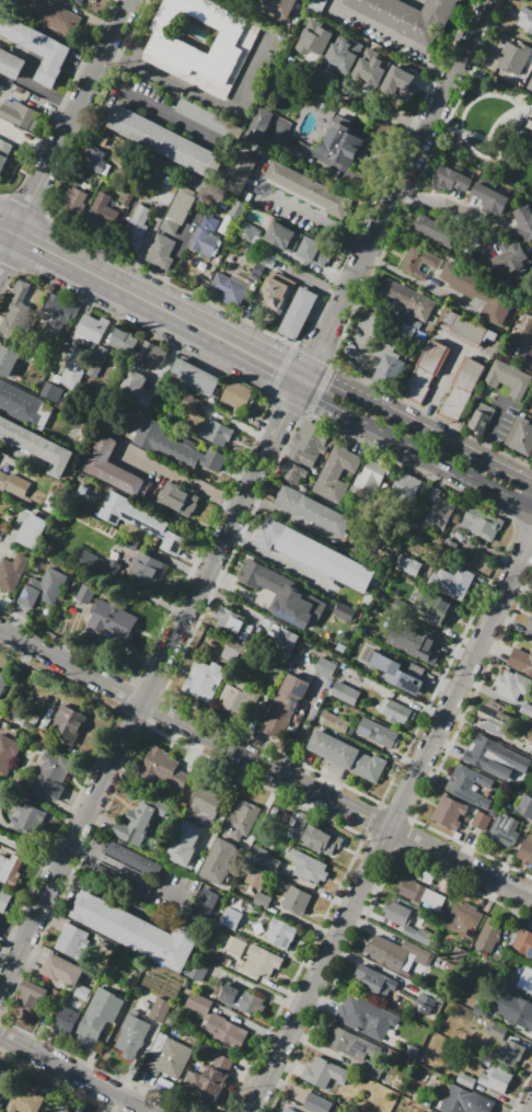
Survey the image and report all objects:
building: (76, 1)
building: (279, 7)
building: (408, 15)
building: (58, 16)
building: (525, 20)
road: (392, 33)
building: (314, 38)
building: (169, 45)
building: (37, 48)
building: (344, 53)
building: (513, 57)
building: (531, 62)
building: (10, 64)
building: (371, 67)
building: (401, 82)
road: (531, 87)
road: (204, 94)
road: (490, 94)
road: (366, 99)
road: (153, 106)
building: (18, 114)
building: (204, 117)
building: (258, 124)
road: (493, 127)
road: (63, 128)
road: (459, 130)
park: (491, 133)
building: (102, 134)
road: (273, 134)
building: (99, 139)
building: (162, 140)
building: (340, 141)
road: (470, 146)
building: (4, 154)
building: (93, 159)
road: (333, 164)
building: (239, 172)
building: (450, 179)
building: (309, 190)
building: (74, 199)
building: (491, 199)
road: (444, 204)
building: (178, 209)
building: (238, 209)
road: (312, 215)
building: (100, 216)
building: (523, 221)
building: (136, 229)
building: (246, 230)
building: (435, 231)
building: (205, 237)
building: (282, 237)
building: (314, 251)
building: (161, 252)
building: (512, 260)
building: (419, 261)
road: (302, 263)
building: (258, 271)
road: (416, 282)
road: (311, 283)
building: (229, 288)
building: (276, 291)
building: (481, 291)
building: (407, 298)
road: (150, 303)
building: (60, 310)
building: (15, 311)
building: (298, 312)
building: (531, 314)
building: (531, 317)
building: (91, 329)
building: (466, 329)
building: (123, 339)
traffic signals: (316, 351)
building: (152, 353)
building: (9, 363)
building: (76, 366)
traffic signals: (277, 367)
building: (389, 368)
building: (424, 371)
building: (194, 377)
building: (509, 379)
traffic signals: (328, 383)
building: (137, 387)
building: (462, 390)
building: (50, 392)
building: (238, 394)
building: (9, 397)
traffic signals: (286, 410)
building: (530, 410)
building: (481, 420)
building: (304, 422)
road: (417, 428)
building: (217, 432)
building: (520, 436)
building: (308, 445)
building: (37, 446)
building: (175, 447)
road: (413, 447)
building: (114, 468)
building: (293, 473)
building: (336, 473)
building: (372, 475)
road: (181, 480)
building: (13, 484)
building: (404, 489)
road: (244, 493)
building: (178, 502)
building: (439, 509)
building: (317, 513)
road: (291, 518)
building: (140, 521)
building: (481, 524)
building: (33, 530)
road: (12, 531)
building: (269, 534)
road: (276, 558)
building: (86, 560)
building: (326, 560)
building: (408, 565)
building: (144, 570)
building: (12, 573)
building: (450, 582)
building: (266, 589)
building: (43, 591)
building: (83, 596)
building: (432, 608)
building: (113, 621)
building: (229, 621)
building: (530, 622)
building: (286, 639)
building: (423, 644)
building: (521, 662)
building: (324, 666)
building: (401, 676)
building: (2, 679)
building: (204, 680)
building: (512, 686)
building: (345, 693)
building: (228, 698)
building: (285, 704)
building: (525, 710)
building: (398, 712)
building: (335, 722)
building: (495, 723)
building: (69, 724)
building: (379, 734)
building: (493, 753)
building: (7, 754)
building: (531, 754)
building: (348, 756)
road: (266, 765)
building: (53, 775)
building: (164, 775)
building: (520, 783)
building: (469, 784)
building: (3, 790)
building: (209, 801)
building: (524, 806)
building: (449, 812)
building: (28, 818)
building: (481, 819)
building: (242, 821)
road: (391, 822)
building: (299, 823)
building: (139, 825)
building: (505, 829)
building: (327, 840)
building: (185, 844)
building: (525, 850)
road: (28, 855)
building: (256, 856)
building: (131, 858)
building: (219, 862)
building: (308, 867)
building: (5, 868)
road: (126, 870)
building: (253, 876)
building: (420, 893)
building: (3, 898)
building: (262, 901)
building: (296, 901)
building: (203, 907)
building: (230, 918)
building: (463, 921)
building: (405, 922)
building: (244, 926)
building: (137, 931)
building: (281, 933)
building: (488, 937)
building: (72, 942)
building: (522, 942)
building: (235, 945)
building: (395, 953)
building: (530, 953)
building: (458, 954)
building: (262, 961)
building: (437, 963)
building: (487, 967)
building: (62, 970)
building: (196, 973)
building: (525, 982)
building: (375, 983)
building: (82, 993)
building: (32, 997)
building: (55, 997)
building: (242, 1000)
building: (198, 1002)
building: (424, 1004)
building: (481, 1009)
building: (514, 1009)
building: (160, 1010)
building: (363, 1017)
building: (99, 1020)
building: (66, 1022)
building: (224, 1030)
building: (497, 1034)
building: (131, 1036)
building: (354, 1043)
building: (413, 1052)
building: (509, 1054)
building: (167, 1057)
building: (371, 1071)
road: (76, 1073)
building: (323, 1075)
building: (2, 1077)
building: (495, 1078)
building: (215, 1079)
building: (465, 1080)
building: (0, 1098)
building: (24, 1101)
building: (466, 1101)
building: (1, 1102)
building: (316, 1104)
building: (57, 1109)
building: (287, 1110)
road: (531, 1111)

